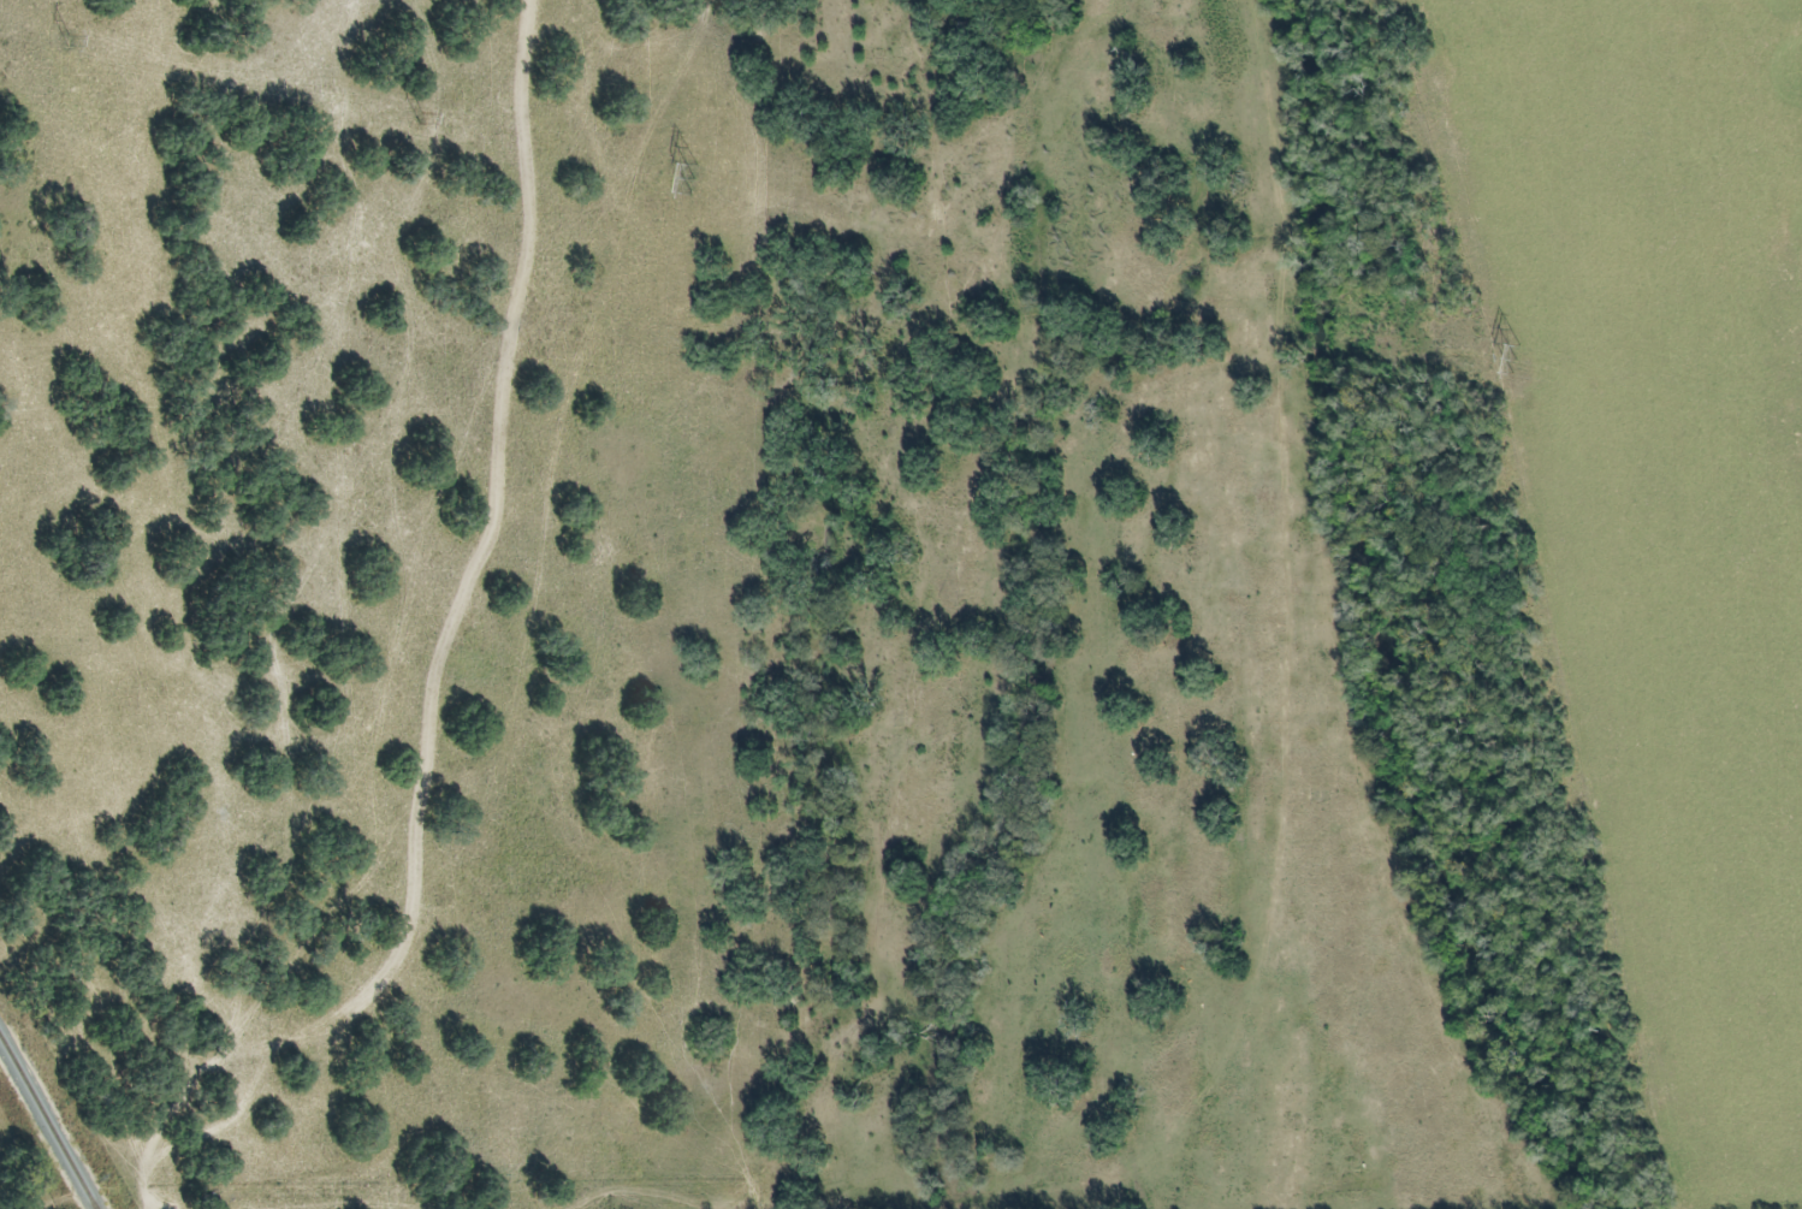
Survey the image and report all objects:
power tower: (77, 41)
power tower: (429, 119)
power tower: (704, 176)
power tower: (1523, 360)
river: (1373, 621)
road: (308, 1033)
railway: (45, 1126)

